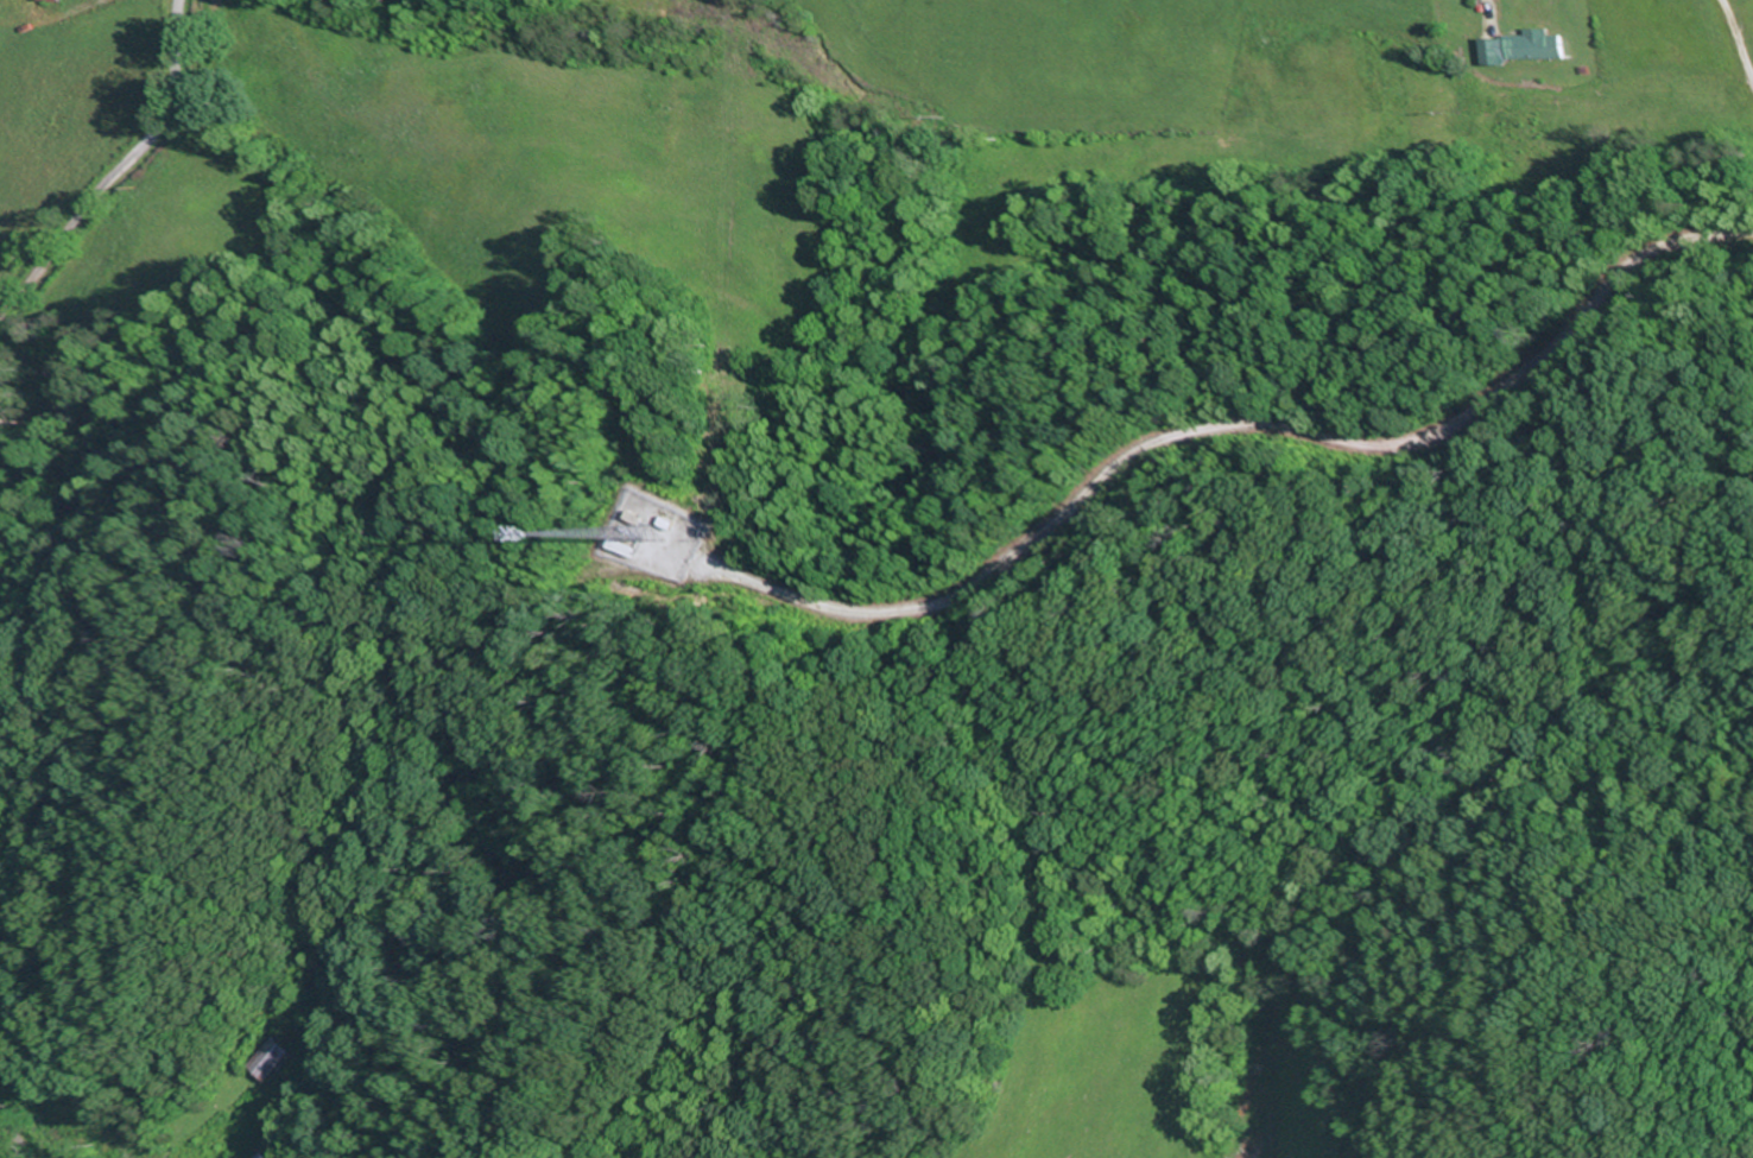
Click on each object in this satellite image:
building: (44, 0)
building: (1527, 48)
road: (120, 172)
building: (625, 549)
building: (277, 1059)
road: (14, 1125)

